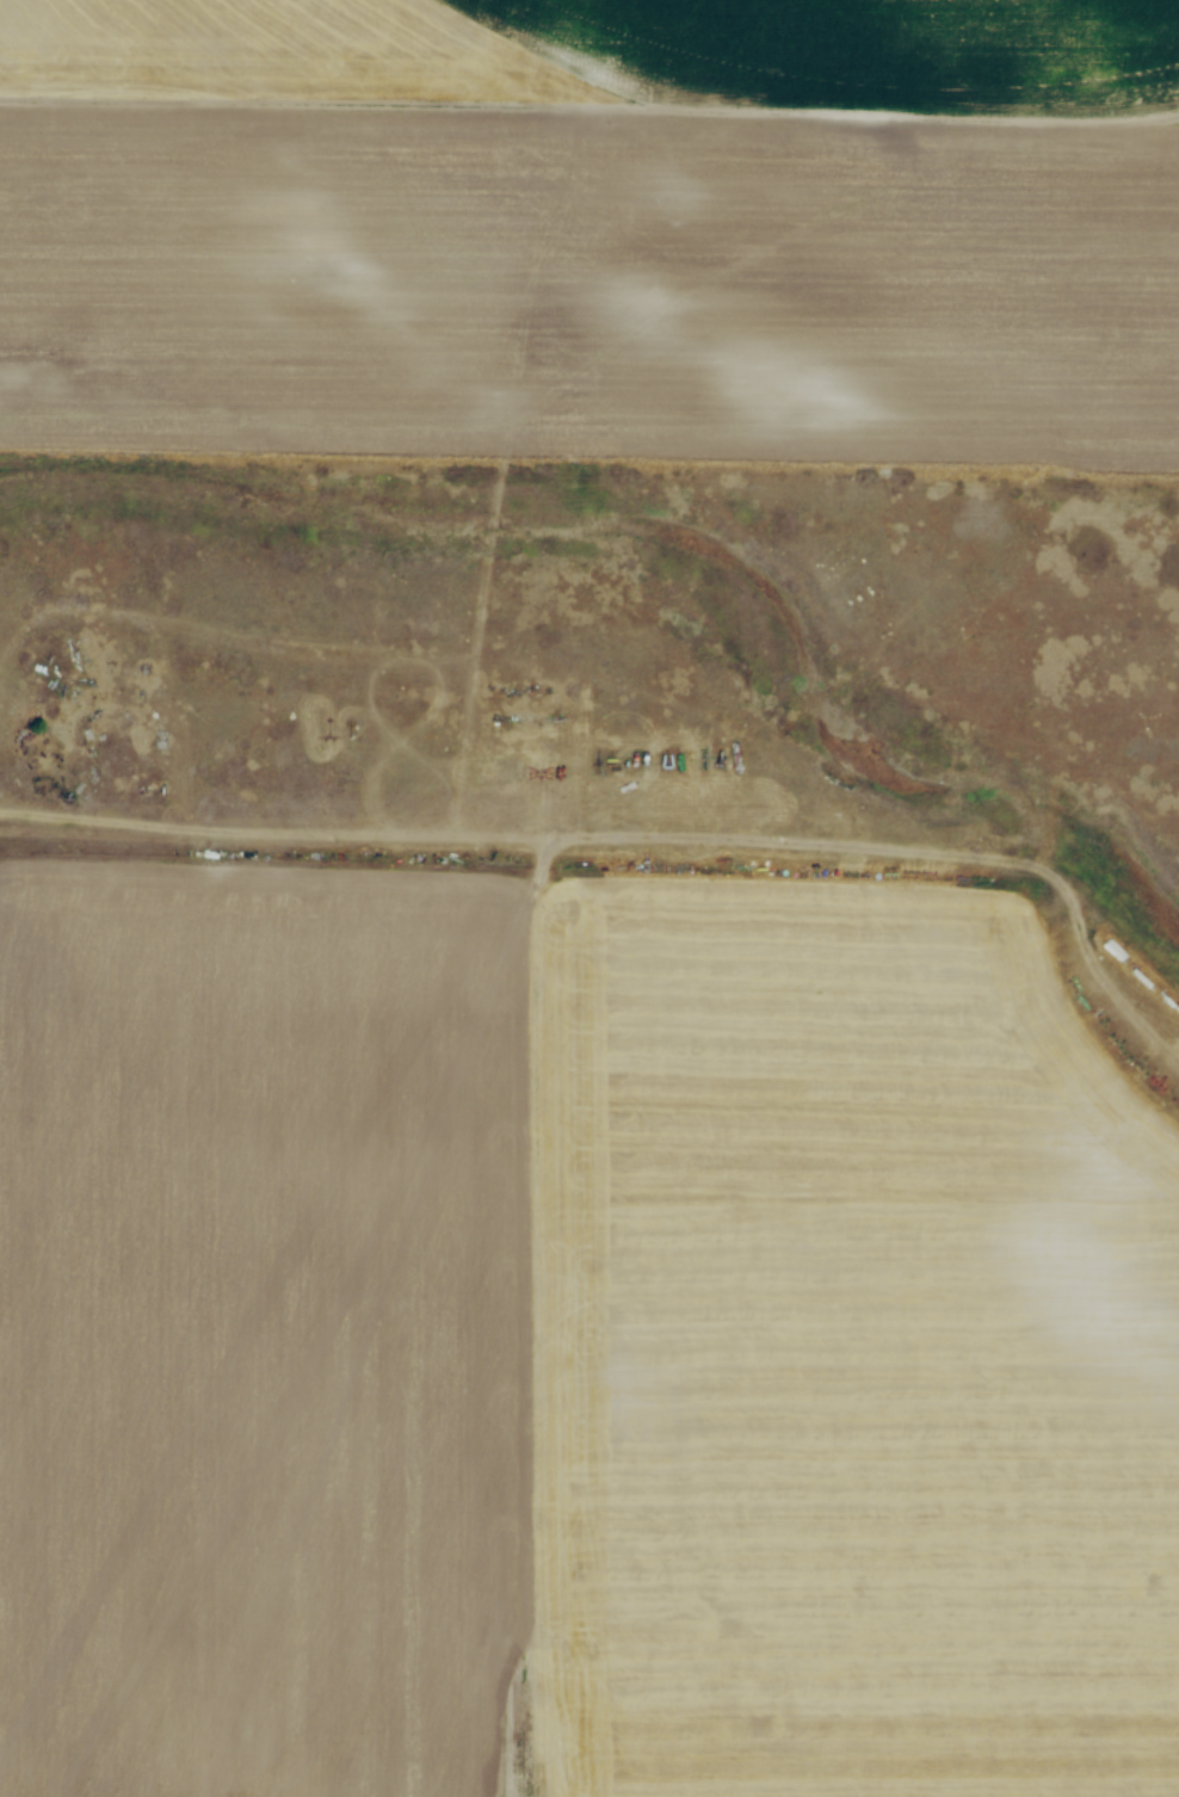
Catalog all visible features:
crop: (593, 228)
crop: (573, 1348)

